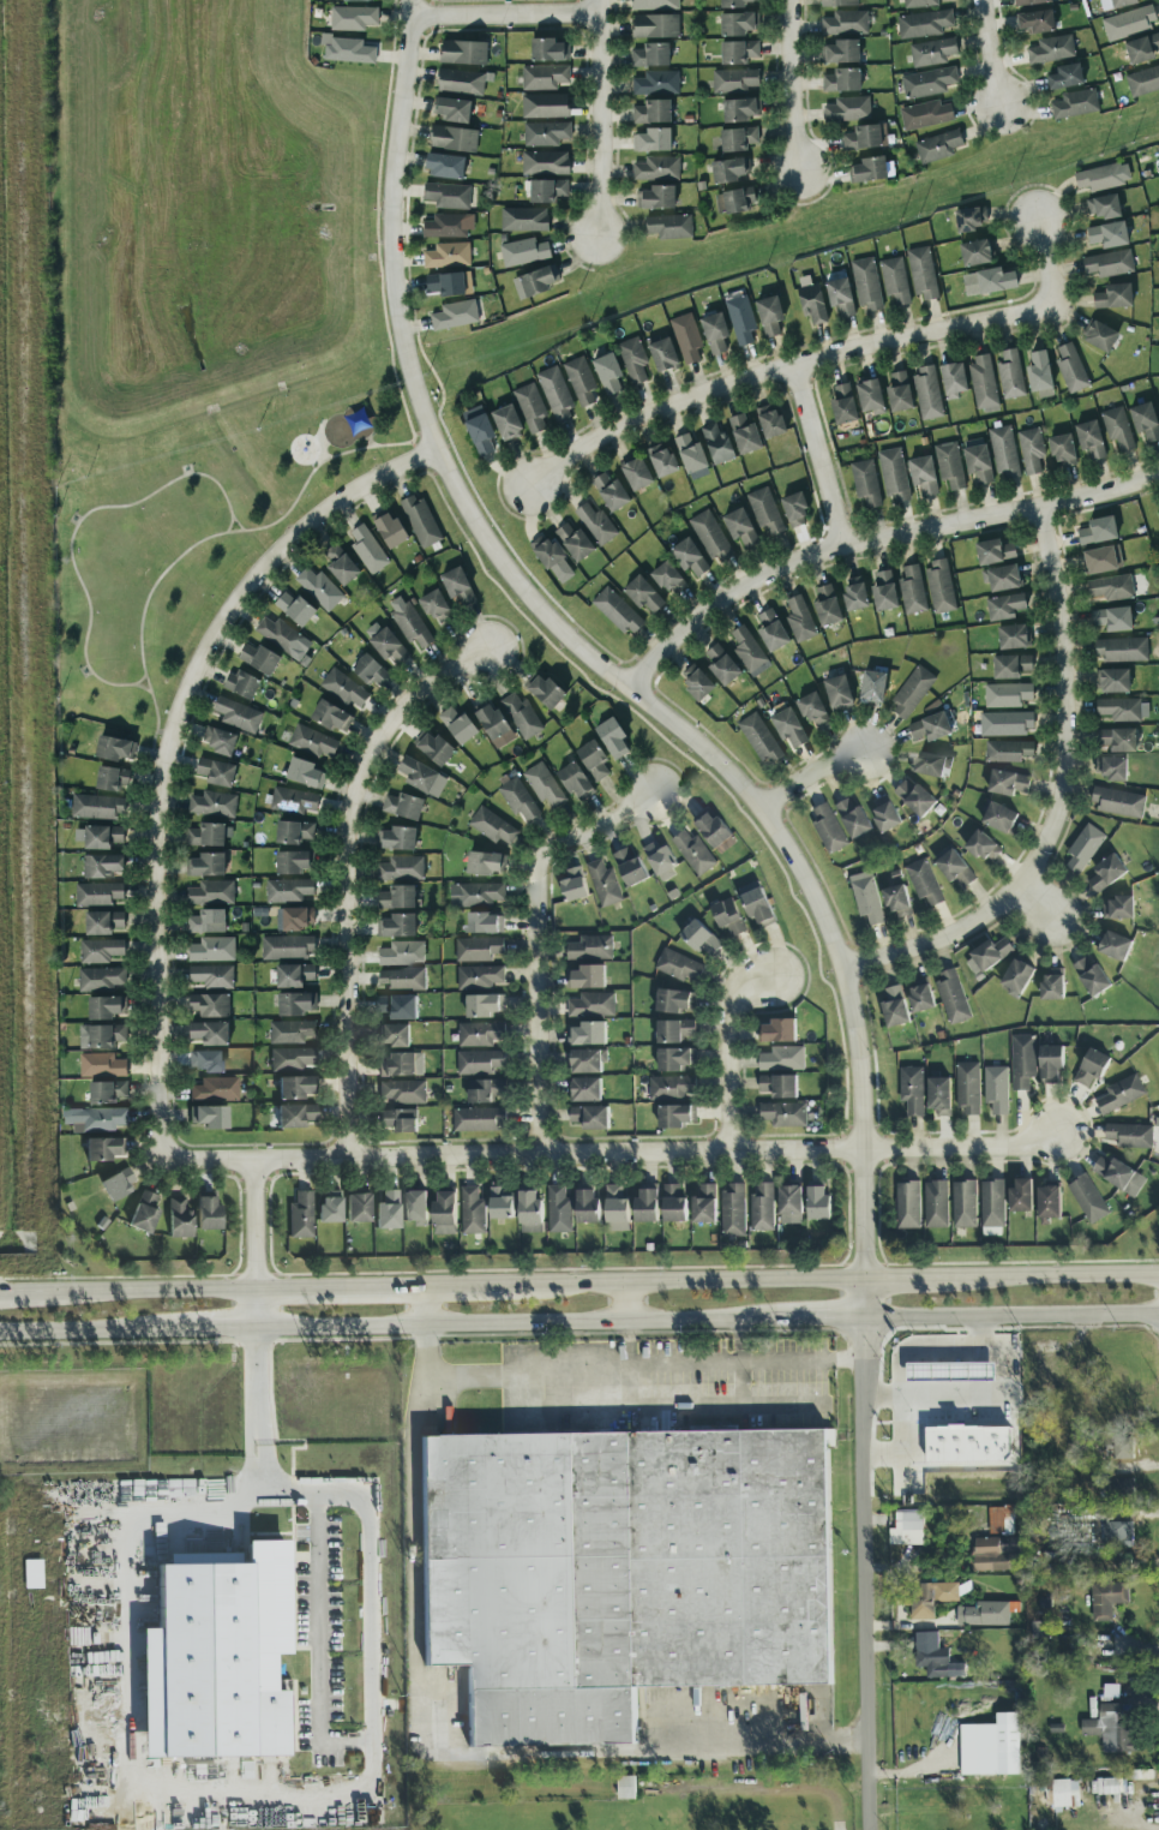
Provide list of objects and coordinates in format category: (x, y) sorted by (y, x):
building: (360, 0)
building: (1031, 1)
building: (734, 2)
building: (839, 2)
building: (919, 2)
building: (654, 4)
building: (1115, 4)
road: (505, 13)
building: (353, 17)
building: (1035, 20)
building: (1129, 22)
building: (738, 23)
building: (845, 23)
building: (924, 23)
building: (655, 25)
building: (1141, 48)
building: (346, 49)
building: (548, 49)
building: (1051, 49)
road: (990, 50)
building: (462, 52)
building: (738, 52)
building: (840, 52)
building: (931, 52)
building: (650, 54)
building: (1065, 76)
building: (544, 77)
building: (733, 79)
building: (841, 79)
building: (461, 80)
building: (1142, 80)
building: (927, 82)
building: (655, 83)
road: (793, 85)
building: (1075, 103)
building: (545, 106)
building: (451, 108)
building: (847, 108)
building: (740, 109)
building: (651, 112)
building: (925, 114)
road: (602, 119)
building: (545, 133)
building: (861, 137)
building: (452, 138)
building: (737, 138)
building: (653, 139)
building: (937, 146)
building: (1158, 151)
building: (545, 162)
building: (444, 166)
building: (656, 168)
building: (728, 169)
building: (867, 169)
building: (1101, 177)
building: (546, 190)
building: (446, 195)
building: (655, 197)
building: (734, 199)
building: (1103, 205)
building: (971, 217)
building: (523, 219)
building: (448, 226)
building: (668, 226)
building: (1107, 234)
building: (523, 251)
building: (974, 252)
building: (446, 255)
road: (1046, 262)
building: (1106, 263)
building: (921, 273)
building: (894, 280)
building: (995, 280)
building: (535, 281)
building: (445, 283)
building: (866, 285)
building: (1112, 295)
building: (840, 297)
building: (811, 303)
building: (454, 315)
building: (769, 315)
building: (714, 331)
building: (1098, 335)
building: (685, 337)
building: (662, 353)
building: (632, 359)
road: (783, 365)
building: (1070, 366)
building: (1038, 371)
building: (607, 372)
building: (1009, 373)
building: (579, 379)
building: (953, 379)
building: (981, 382)
building: (554, 391)
building: (899, 391)
building: (926, 393)
building: (870, 396)
building: (842, 403)
building: (530, 406)
building: (769, 420)
building: (1145, 421)
building: (506, 423)
building: (1117, 427)
building: (478, 429)
building: (743, 432)
road: (367, 435)
road: (326, 438)
building: (1089, 438)
road: (370, 442)
building: (716, 443)
building: (1031, 450)
building: (1062, 450)
building: (689, 451)
road: (821, 451)
building: (1003, 451)
building: (661, 459)
building: (978, 464)
building: (949, 465)
building: (636, 473)
building: (893, 474)
building: (923, 474)
building: (865, 484)
building: (609, 491)
building: (793, 509)
building: (764, 512)
building: (1158, 516)
road: (80, 519)
building: (420, 520)
building: (595, 522)
road: (229, 524)
building: (740, 528)
building: (389, 530)
building: (1097, 531)
road: (218, 533)
building: (711, 537)
road: (873, 537)
building: (574, 542)
building: (367, 549)
building: (993, 551)
building: (687, 556)
building: (552, 558)
building: (1101, 560)
building: (340, 563)
building: (667, 578)
building: (1001, 578)
building: (938, 586)
building: (457, 587)
building: (1110, 587)
building: (319, 588)
building: (883, 590)
building: (912, 590)
building: (642, 593)
building: (854, 596)
building: (825, 605)
building: (434, 606)
building: (1004, 606)
building: (294, 608)
building: (615, 610)
building: (799, 618)
building: (1107, 618)
building: (410, 624)
building: (770, 630)
building: (280, 634)
building: (1013, 635)
building: (388, 646)
building: (1121, 648)
building: (749, 651)
building: (258, 658)
road: (593, 659)
building: (721, 664)
building: (1010, 665)
building: (368, 669)
road: (140, 678)
building: (1111, 680)
building: (696, 681)
building: (240, 683)
building: (871, 686)
road: (143, 687)
building: (344, 688)
building: (544, 689)
building: (837, 693)
building: (1007, 694)
building: (811, 708)
building: (1123, 708)
building: (236, 714)
building: (331, 716)
building: (521, 716)
building: (491, 720)
building: (1005, 723)
building: (457, 724)
building: (786, 724)
building: (929, 726)
building: (612, 737)
building: (759, 738)
building: (1117, 738)
building: (220, 740)
building: (312, 741)
building: (432, 747)
building: (115, 748)
road: (167, 748)
building: (1007, 752)
building: (593, 759)
building: (931, 765)
building: (1111, 770)
building: (215, 771)
building: (304, 772)
building: (112, 777)
building: (421, 777)
road: (810, 778)
building: (575, 781)
building: (542, 784)
building: (1009, 784)
building: (517, 799)
road: (1061, 799)
building: (293, 800)
building: (915, 800)
building: (212, 803)
building: (1118, 803)
building: (96, 806)
building: (402, 806)
building: (887, 815)
building: (999, 819)
building: (854, 820)
building: (492, 826)
building: (293, 831)
building: (829, 831)
building: (715, 833)
building: (205, 835)
building: (102, 836)
building: (397, 837)
building: (984, 849)
building: (1085, 849)
building: (695, 854)
building: (661, 860)
building: (293, 861)
building: (484, 862)
building: (102, 865)
building: (205, 865)
building: (402, 868)
building: (631, 868)
building: (955, 869)
road: (347, 873)
building: (1107, 874)
building: (605, 885)
building: (925, 885)
building: (574, 886)
building: (288, 889)
building: (211, 892)
building: (97, 893)
building: (476, 893)
building: (396, 897)
building: (867, 902)
building: (899, 903)
building: (757, 905)
building: (1118, 910)
building: (294, 917)
building: (729, 920)
building: (206, 921)
building: (102, 922)
building: (485, 923)
building: (396, 925)
building: (702, 940)
road: (536, 941)
building: (287, 946)
building: (1113, 947)
building: (211, 949)
building: (100, 950)
building: (591, 950)
building: (479, 951)
building: (402, 953)
building: (989, 957)
building: (679, 968)
building: (211, 975)
building: (293, 975)
building: (100, 979)
building: (480, 979)
building: (587, 979)
building: (1017, 979)
building: (1092, 979)
building: (402, 980)
building: (1053, 988)
building: (953, 998)
building: (921, 999)
building: (295, 1003)
building: (675, 1003)
building: (210, 1005)
building: (103, 1006)
building: (593, 1006)
building: (485, 1007)
building: (895, 1007)
building: (401, 1009)
building: (290, 1031)
building: (209, 1033)
building: (675, 1033)
building: (779, 1033)
building: (101, 1035)
building: (481, 1035)
building: (588, 1035)
building: (398, 1037)
road: (728, 1052)
building: (293, 1059)
building: (204, 1060)
building: (677, 1060)
building: (782, 1060)
building: (588, 1063)
building: (1023, 1063)
building: (480, 1064)
building: (101, 1065)
building: (1052, 1065)
building: (398, 1066)
building: (1092, 1069)
building: (780, 1087)
building: (296, 1088)
building: (672, 1089)
building: (215, 1090)
building: (968, 1090)
building: (997, 1090)
building: (107, 1092)
building: (486, 1092)
building: (585, 1092)
building: (912, 1092)
building: (403, 1093)
building: (1122, 1095)
building: (941, 1099)
building: (295, 1116)
building: (783, 1116)
building: (209, 1118)
building: (591, 1118)
building: (677, 1118)
building: (94, 1119)
building: (398, 1122)
building: (479, 1122)
building: (1130, 1137)
building: (103, 1149)
road: (623, 1154)
building: (1119, 1177)
building: (118, 1185)
building: (1021, 1197)
building: (792, 1201)
building: (1088, 1201)
building: (818, 1203)
building: (1050, 1203)
building: (502, 1204)
building: (705, 1204)
building: (648, 1206)
building: (674, 1206)
building: (937, 1206)
building: (965, 1206)
building: (993, 1206)
building: (908, 1207)
building: (330, 1208)
building: (358, 1208)
building: (588, 1208)
building: (416, 1209)
building: (618, 1209)
building: (763, 1209)
building: (388, 1212)
building: (559, 1212)
building: (144, 1213)
building: (473, 1213)
building: (734, 1213)
building: (209, 1215)
building: (301, 1215)
building: (445, 1215)
building: (180, 1219)
road: (256, 1225)
road: (1050, 1276)
road: (903, 1280)
road: (691, 1281)
road: (386, 1285)
road: (151, 1290)
road: (23, 1292)
road: (629, 1302)
road: (426, 1305)
road: (257, 1308)
road: (1013, 1316)
road: (828, 1320)
road: (523, 1324)
road: (212, 1328)
road: (84, 1330)
road: (984, 1336)
road: (692, 1364)
road: (985, 1365)
road: (630, 1366)
building: (915, 1374)
road: (472, 1379)
road: (741, 1387)
road: (517, 1389)
road: (936, 1395)
road: (672, 1410)
road: (257, 1411)
road: (902, 1445)
building: (968, 1446)
building: (1123, 1448)
building: (1115, 1489)
road: (136, 1499)
building: (1001, 1521)
building: (907, 1530)
building: (1117, 1536)
road: (870, 1555)
building: (997, 1555)
building: (623, 1573)
building: (32, 1574)
building: (931, 1599)
building: (1107, 1601)
building: (986, 1614)
building: (1038, 1631)
road: (318, 1643)
building: (216, 1656)
building: (935, 1659)
building: (1112, 1732)
building: (991, 1747)
road: (436, 1754)
building: (1111, 1787)
building: (626, 1788)
building: (1065, 1795)

